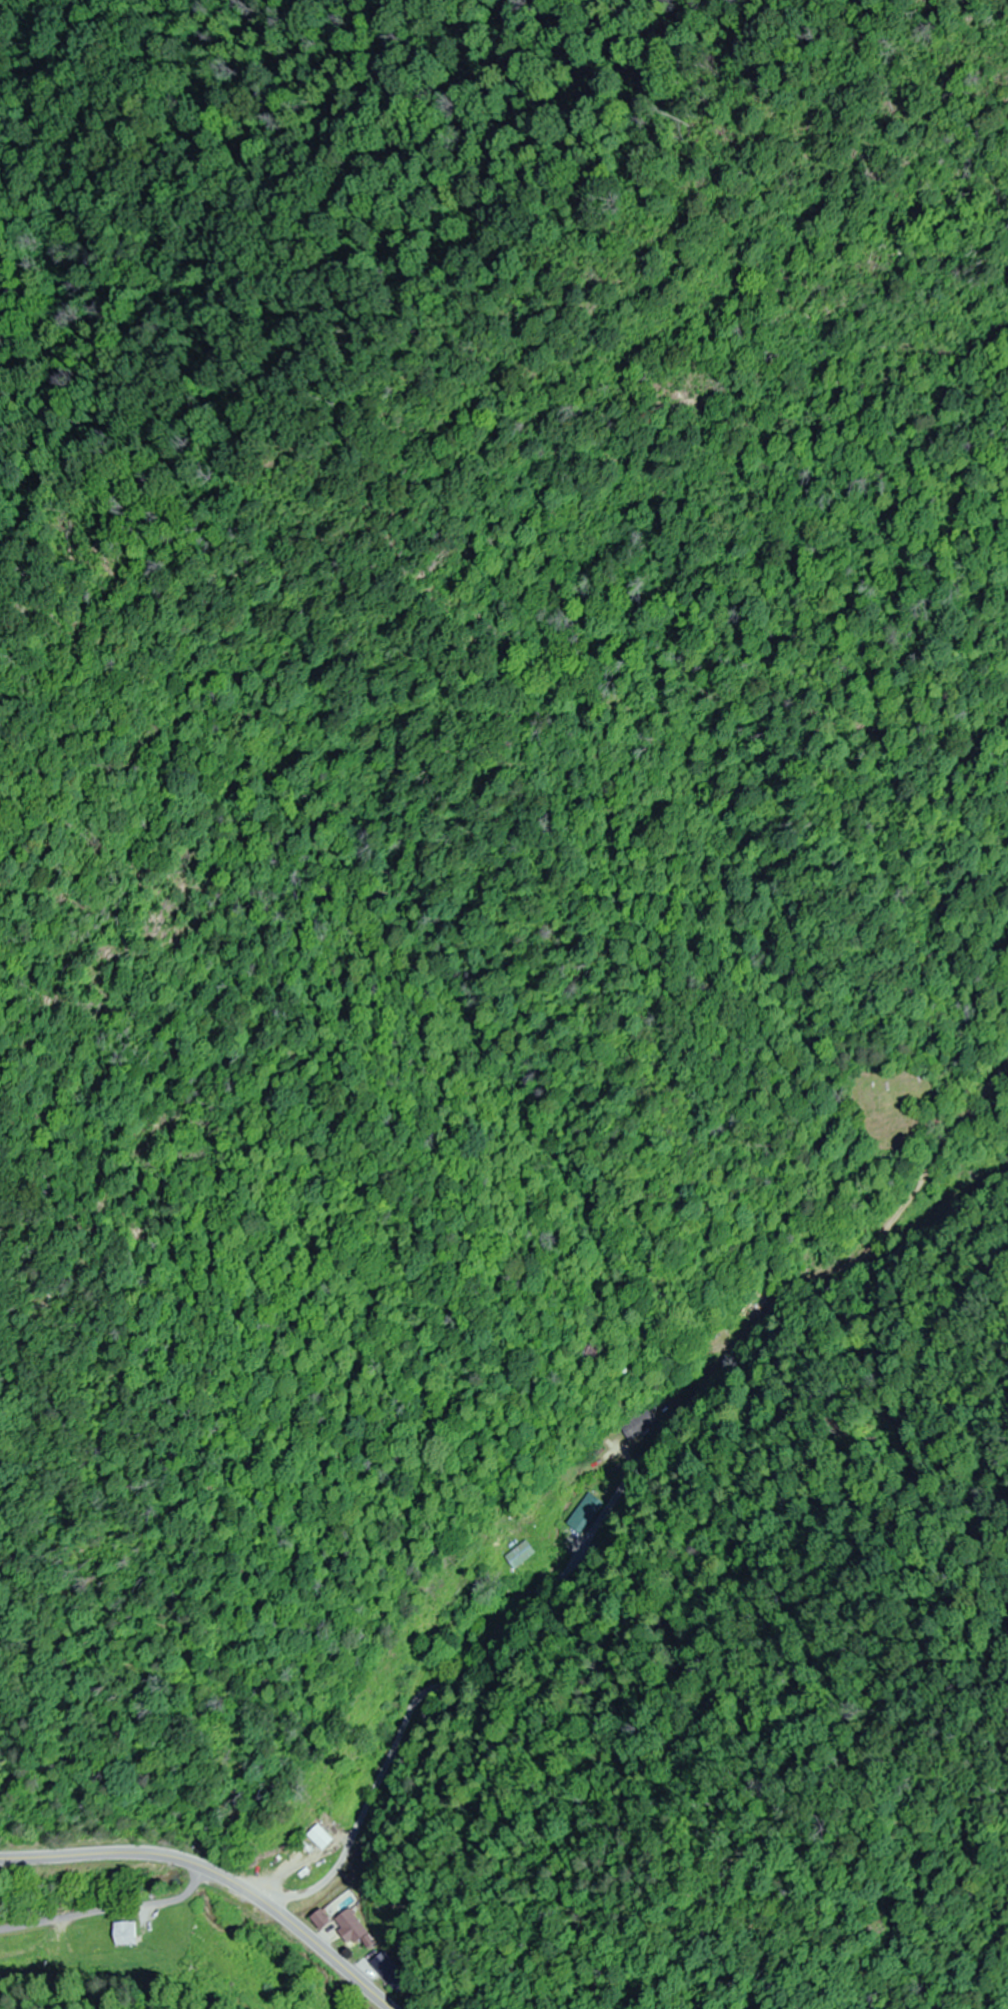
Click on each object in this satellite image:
building: (586, 1352)
building: (641, 1425)
building: (589, 1514)
building: (524, 1558)
road: (405, 1752)
building: (319, 1838)
road: (217, 1875)
road: (330, 1890)
road: (108, 1909)
building: (319, 1920)
building: (352, 1929)
building: (130, 1934)
building: (390, 1971)

